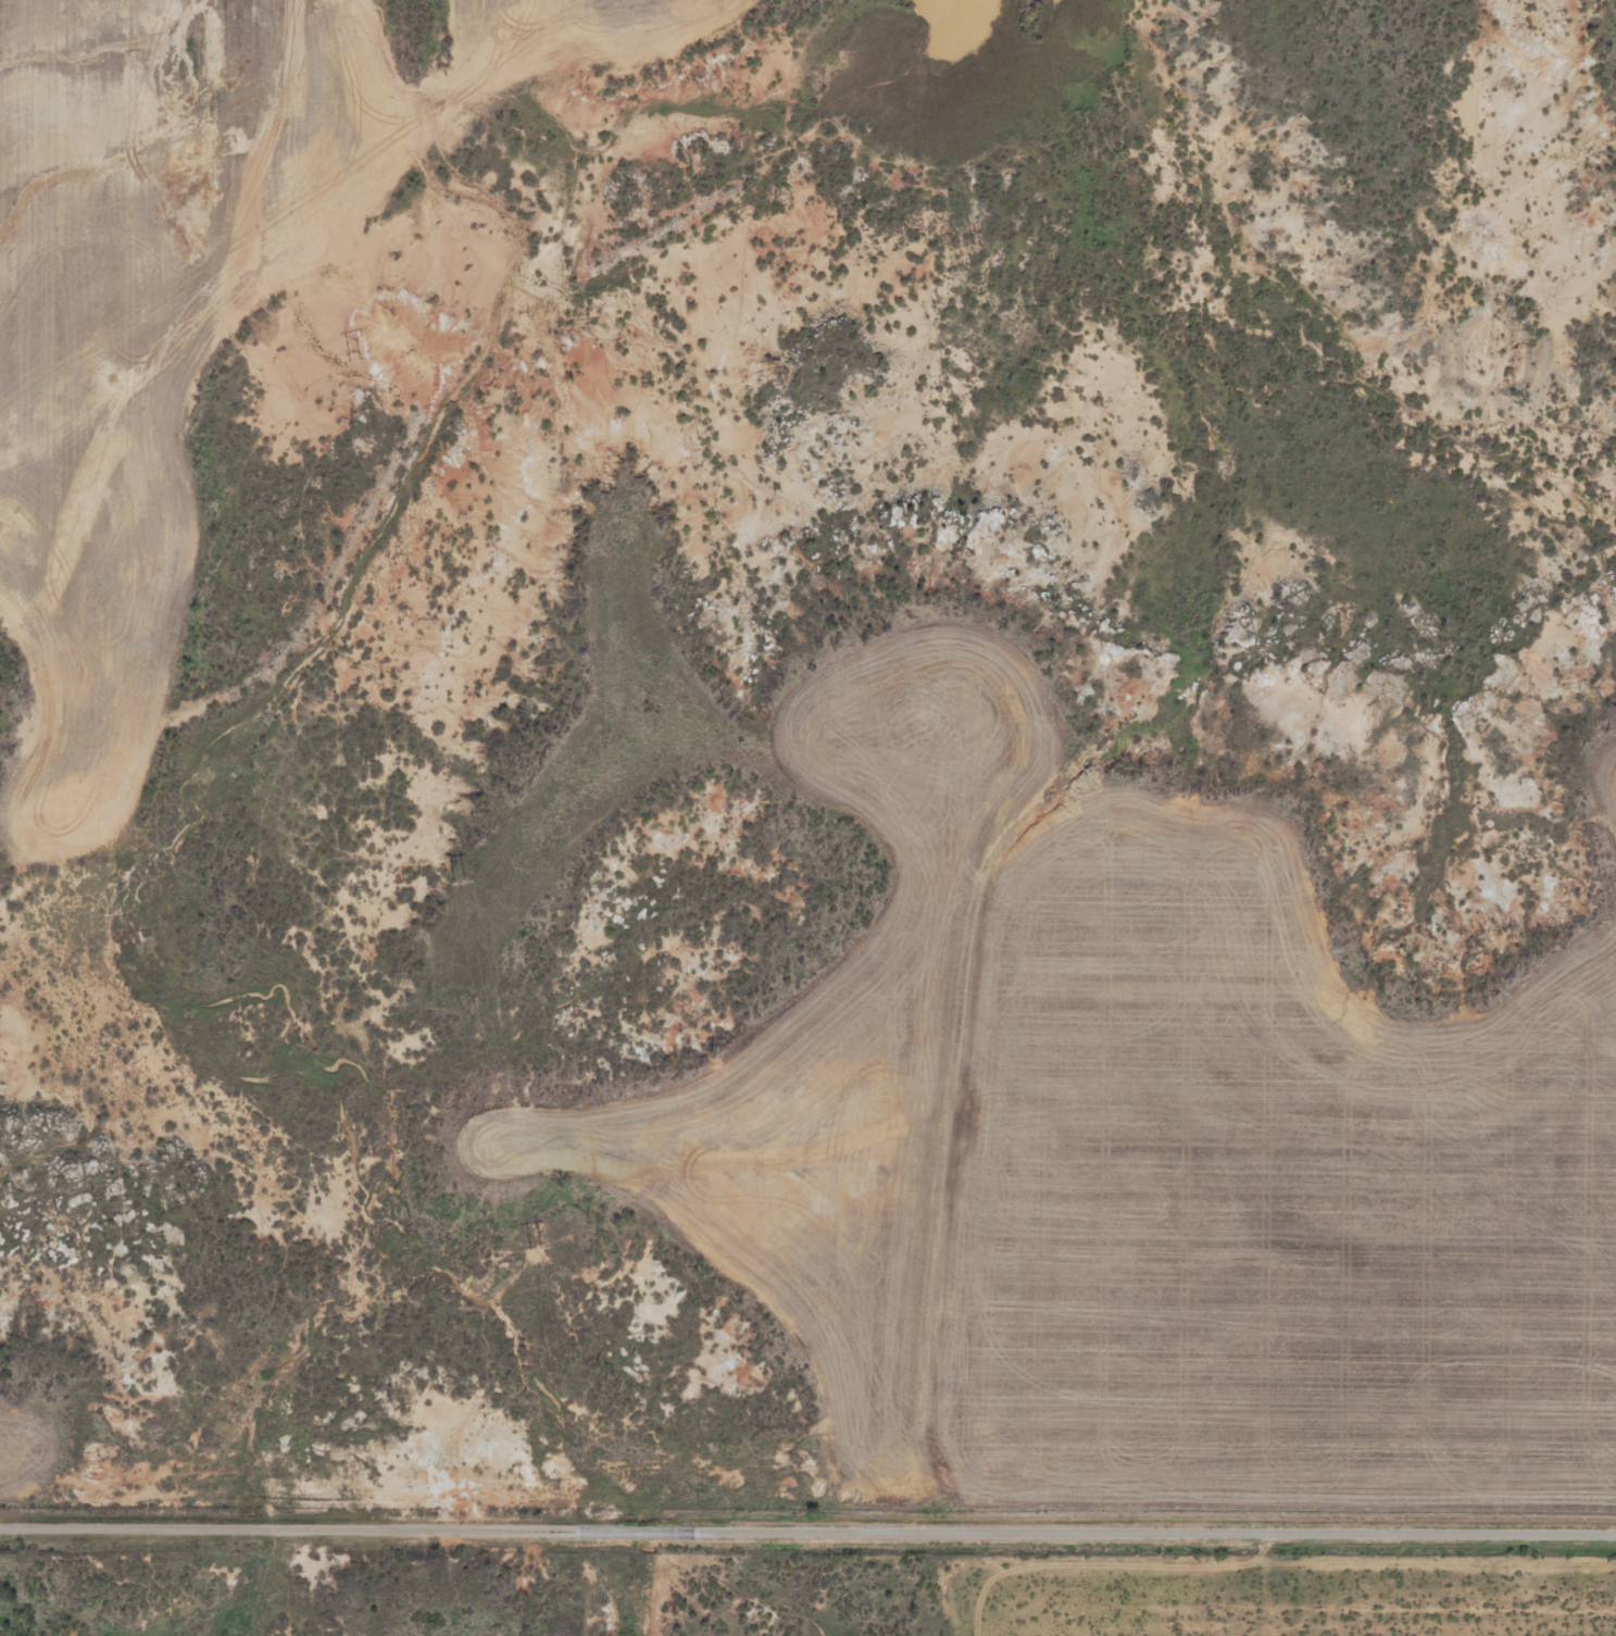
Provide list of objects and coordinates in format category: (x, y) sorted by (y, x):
road: (807, 1529)

